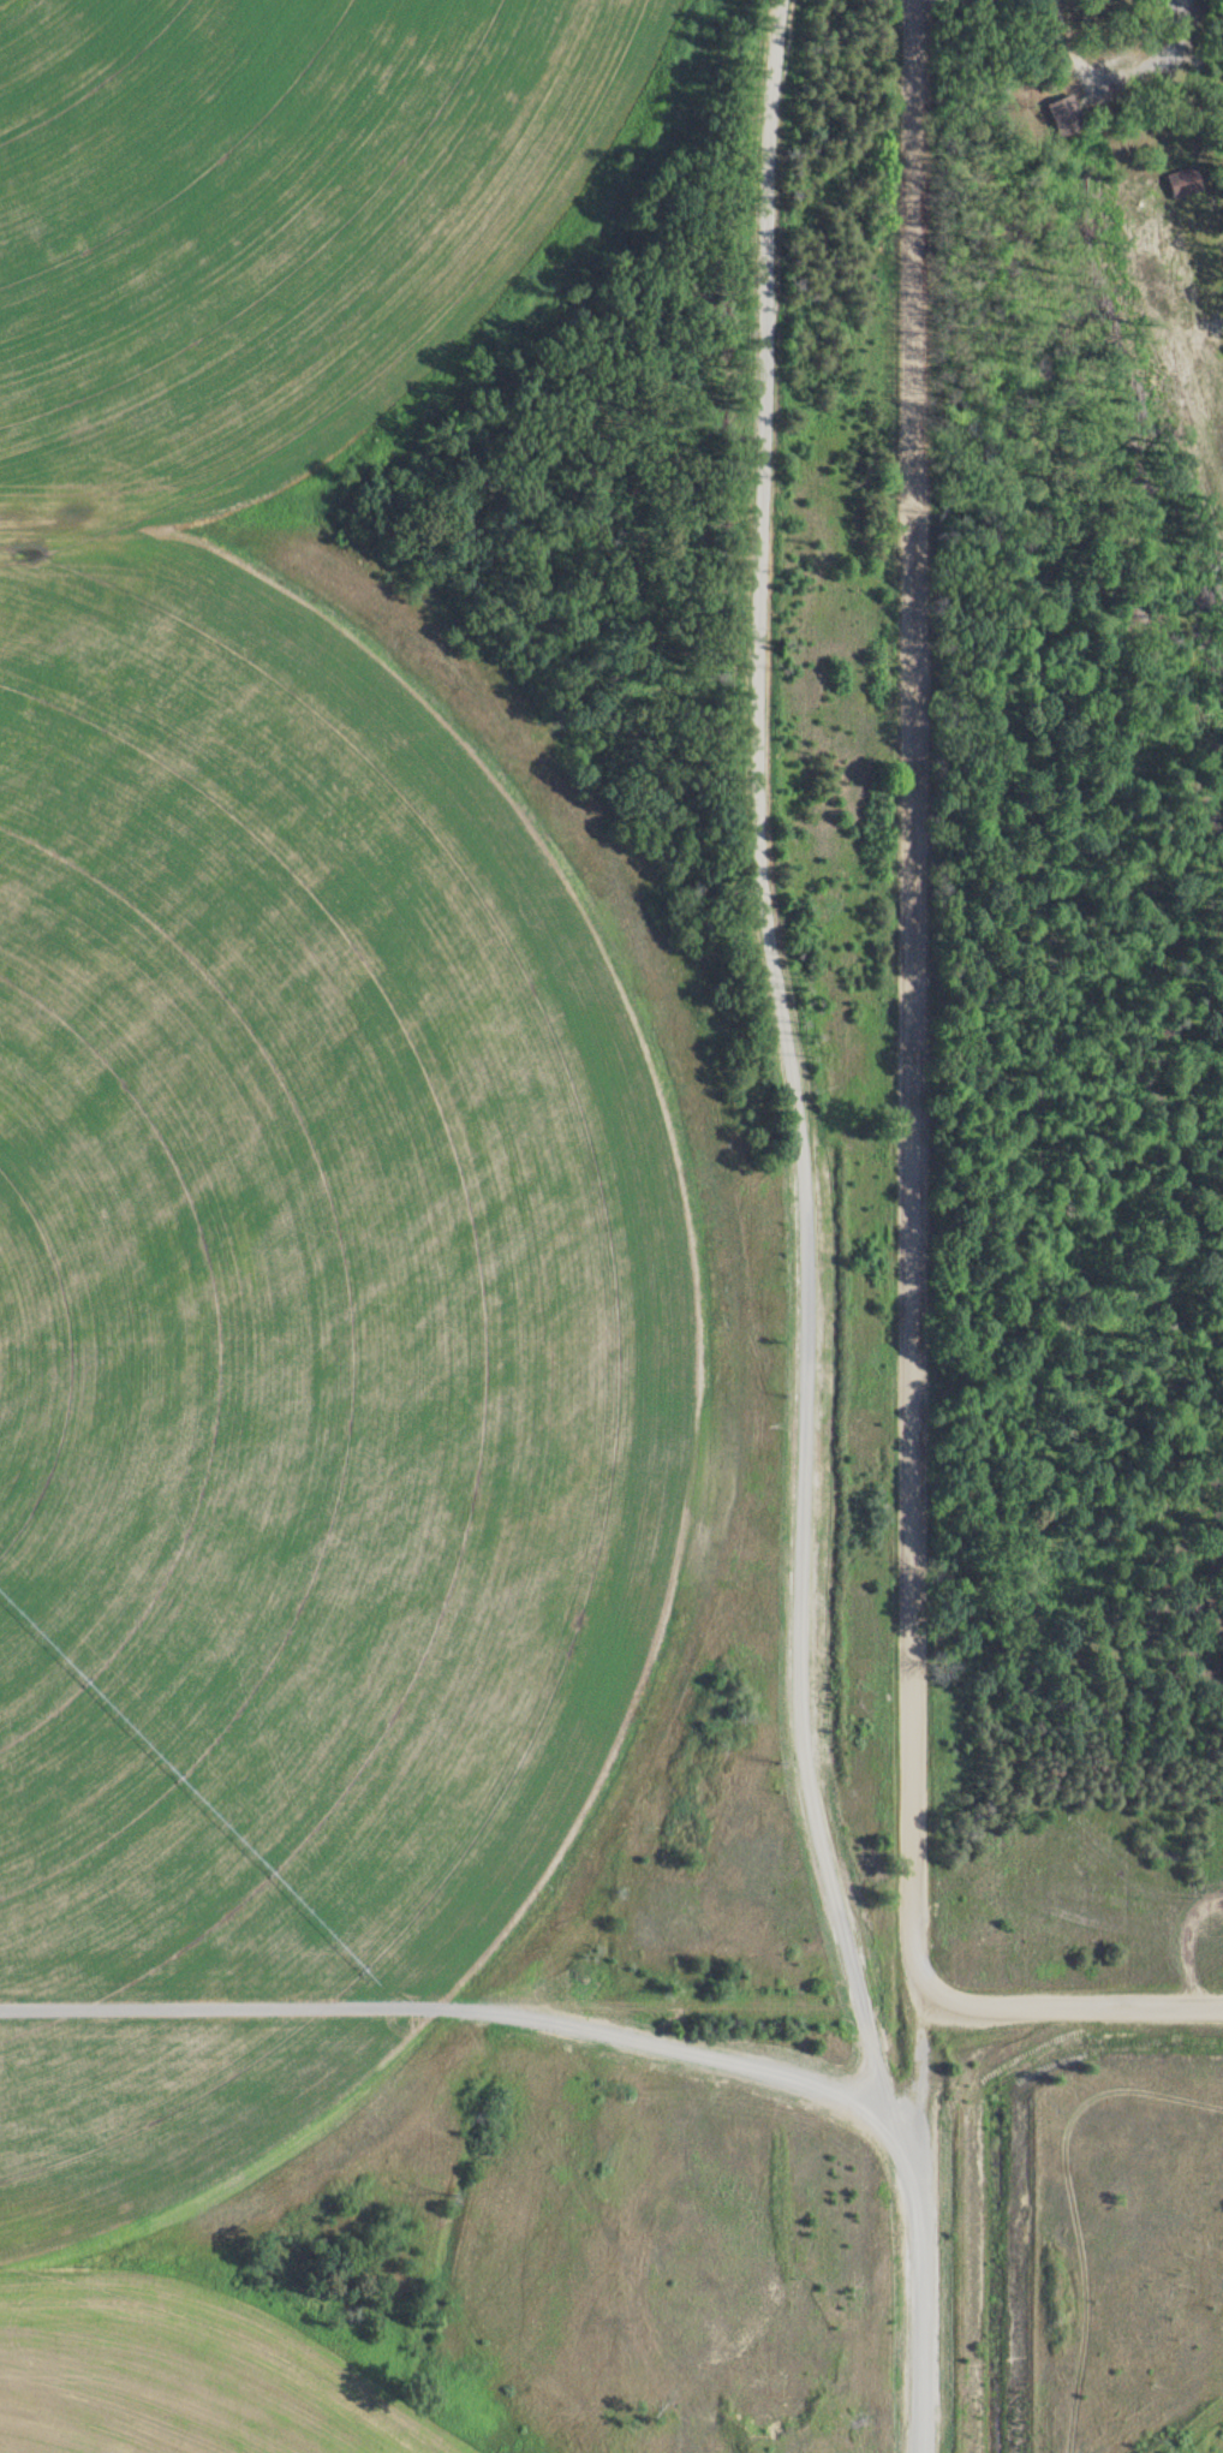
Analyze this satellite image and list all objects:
road: (1122, 70)
building: (1066, 114)
building: (1185, 180)
road: (914, 1001)
wastewater plant: (455, 1293)
road: (1070, 1999)
road: (569, 2024)
road: (920, 2314)

